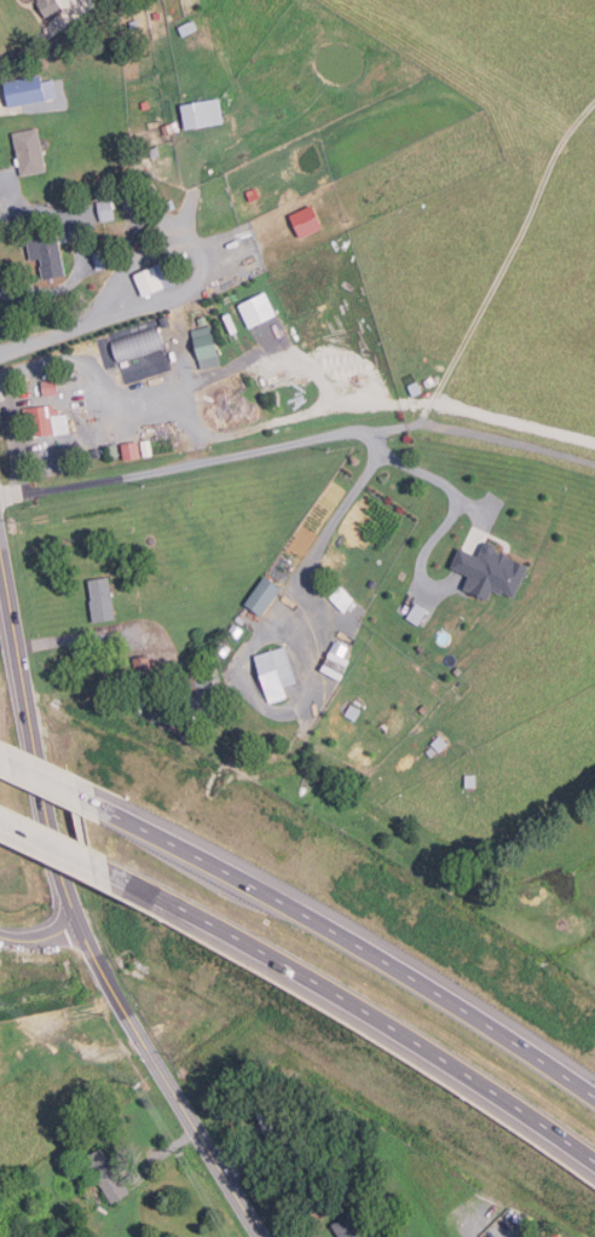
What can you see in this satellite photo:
building: (51, 6)
building: (158, 16)
building: (137, 23)
building: (183, 27)
building: (190, 28)
road: (35, 40)
building: (31, 89)
building: (148, 104)
building: (206, 112)
building: (172, 128)
building: (31, 151)
building: (156, 152)
building: (104, 191)
building: (252, 193)
building: (140, 195)
road: (7, 196)
building: (173, 203)
building: (108, 209)
road: (54, 210)
building: (304, 221)
road: (202, 247)
building: (50, 254)
building: (103, 256)
road: (506, 258)
building: (160, 278)
building: (4, 288)
building: (260, 310)
building: (167, 320)
road: (54, 329)
building: (208, 343)
building: (132, 345)
building: (141, 365)
building: (45, 386)
building: (52, 387)
building: (41, 421)
building: (63, 424)
road: (18, 435)
road: (507, 435)
road: (372, 438)
building: (148, 447)
building: (116, 450)
building: (133, 450)
building: (98, 452)
road: (208, 458)
road: (443, 482)
road: (320, 542)
building: (487, 570)
building: (371, 582)
building: (260, 594)
building: (340, 596)
building: (99, 599)
building: (415, 613)
building: (235, 629)
road: (73, 637)
building: (337, 647)
building: (221, 648)
building: (140, 664)
building: (456, 669)
building: (273, 670)
building: (192, 678)
building: (423, 709)
building: (351, 711)
building: (438, 742)
building: (429, 750)
building: (469, 779)
road: (36, 781)
building: (11, 817)
road: (44, 842)
road: (76, 917)
road: (340, 937)
road: (41, 944)
road: (347, 1002)
building: (291, 1110)
building: (260, 1116)
building: (105, 1173)
road: (473, 1220)
building: (346, 1226)

